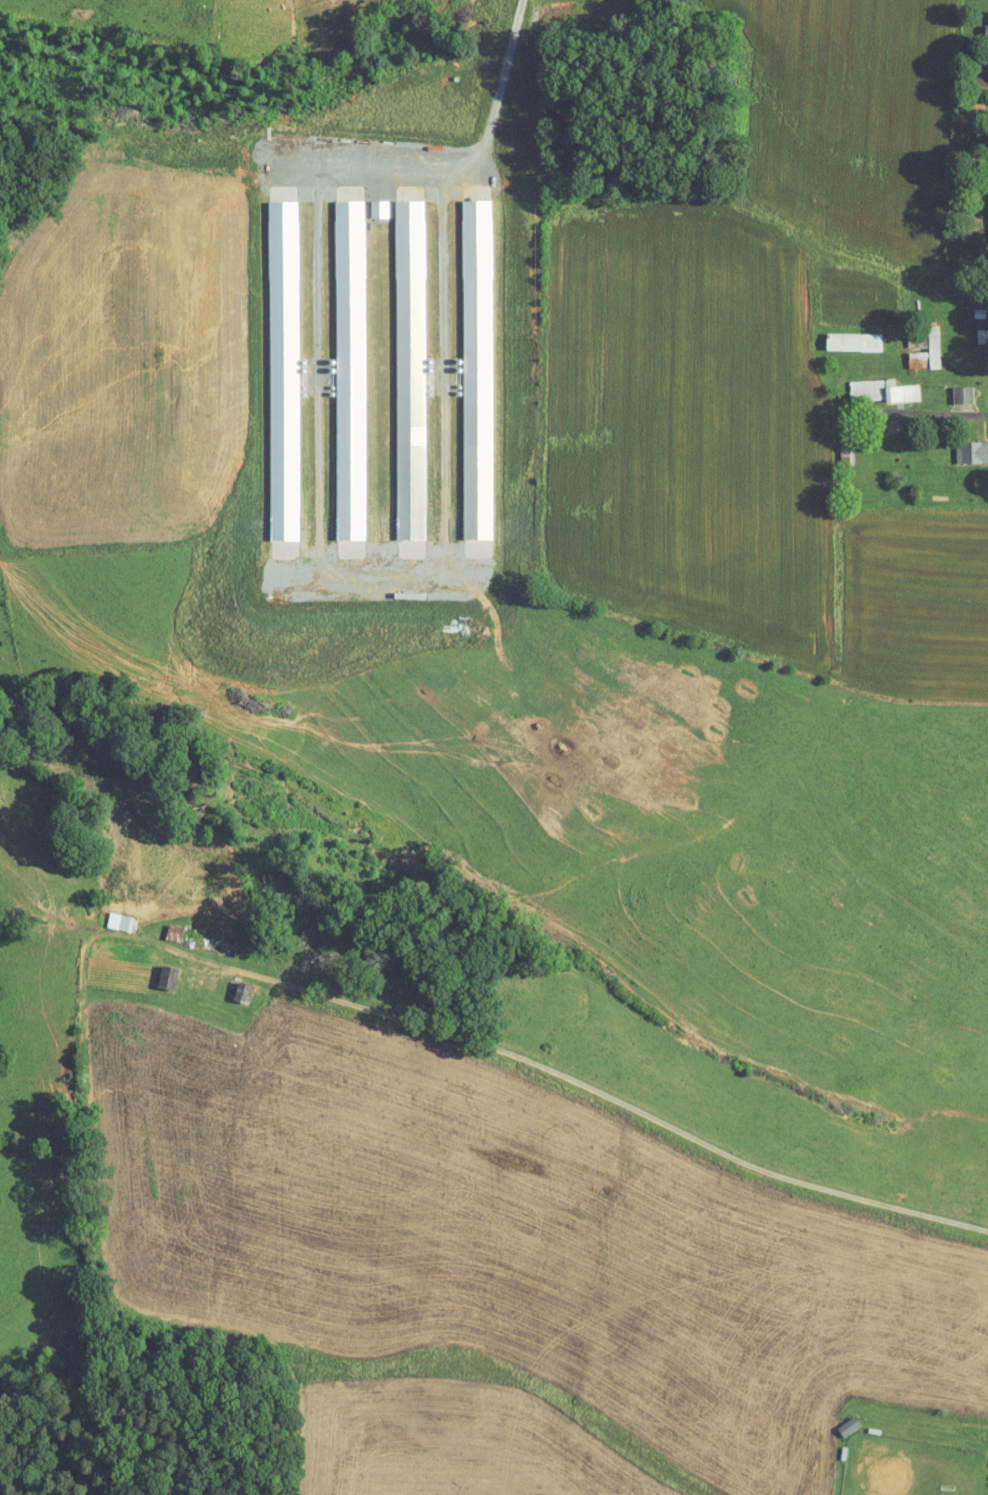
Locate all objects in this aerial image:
building: (981, 26)
road: (461, 164)
building: (367, 203)
building: (985, 216)
building: (842, 336)
building: (922, 345)
building: (906, 353)
building: (399, 364)
building: (465, 364)
building: (272, 365)
building: (338, 365)
building: (869, 384)
building: (951, 389)
building: (964, 447)
road: (621, 469)
building: (113, 916)
building: (162, 926)
building: (156, 970)
building: (231, 985)
road: (621, 1099)
building: (837, 1420)
park: (889, 1455)

